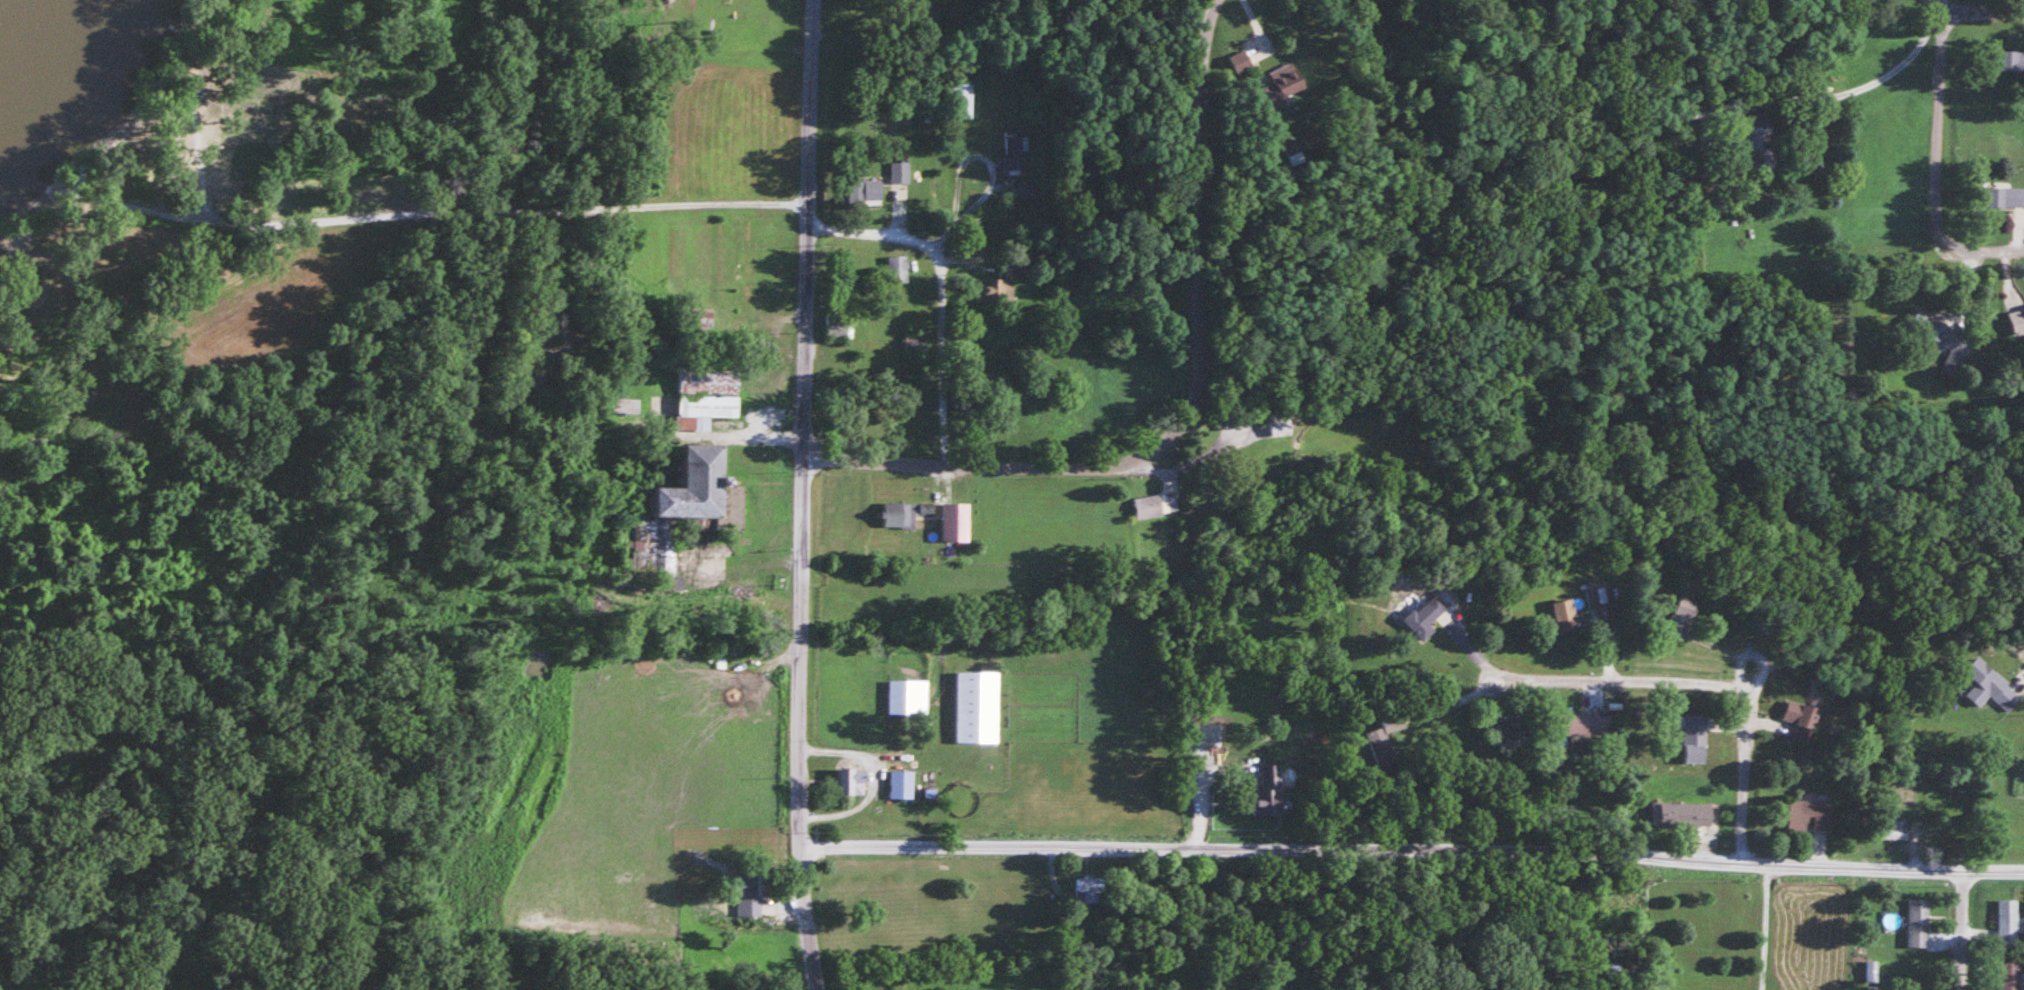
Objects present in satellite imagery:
road: (1981, 10)
building: (931, 14)
building: (1238, 60)
building: (2012, 60)
road: (1873, 62)
building: (1280, 85)
building: (960, 100)
road: (1937, 117)
building: (1757, 143)
building: (1011, 153)
building: (899, 172)
building: (117, 183)
building: (862, 187)
building: (1020, 189)
building: (2005, 196)
road: (873, 231)
road: (1201, 234)
road: (1985, 240)
building: (897, 269)
building: (1003, 279)
building: (35, 293)
building: (2016, 320)
building: (838, 328)
building: (1938, 333)
building: (914, 341)
road: (939, 357)
building: (705, 398)
building: (623, 405)
road: (801, 422)
building: (1279, 425)
road: (975, 463)
building: (693, 498)
building: (1150, 505)
building: (898, 514)
building: (954, 522)
building: (879, 570)
building: (1595, 595)
building: (1563, 614)
building: (1425, 616)
building: (1679, 617)
road: (1625, 678)
road: (2022, 678)
building: (1988, 686)
building: (728, 694)
building: (907, 697)
building: (976, 707)
building: (1799, 720)
building: (1584, 727)
building: (1694, 737)
building: (1382, 740)
building: (851, 781)
road: (1741, 781)
building: (901, 785)
building: (1267, 791)
building: (1685, 814)
building: (1808, 815)
building: (1894, 830)
building: (1954, 834)
road: (1410, 848)
building: (1087, 890)
building: (748, 894)
road: (806, 918)
building: (2008, 919)
building: (1918, 923)
road: (1967, 929)
building: (2010, 973)

